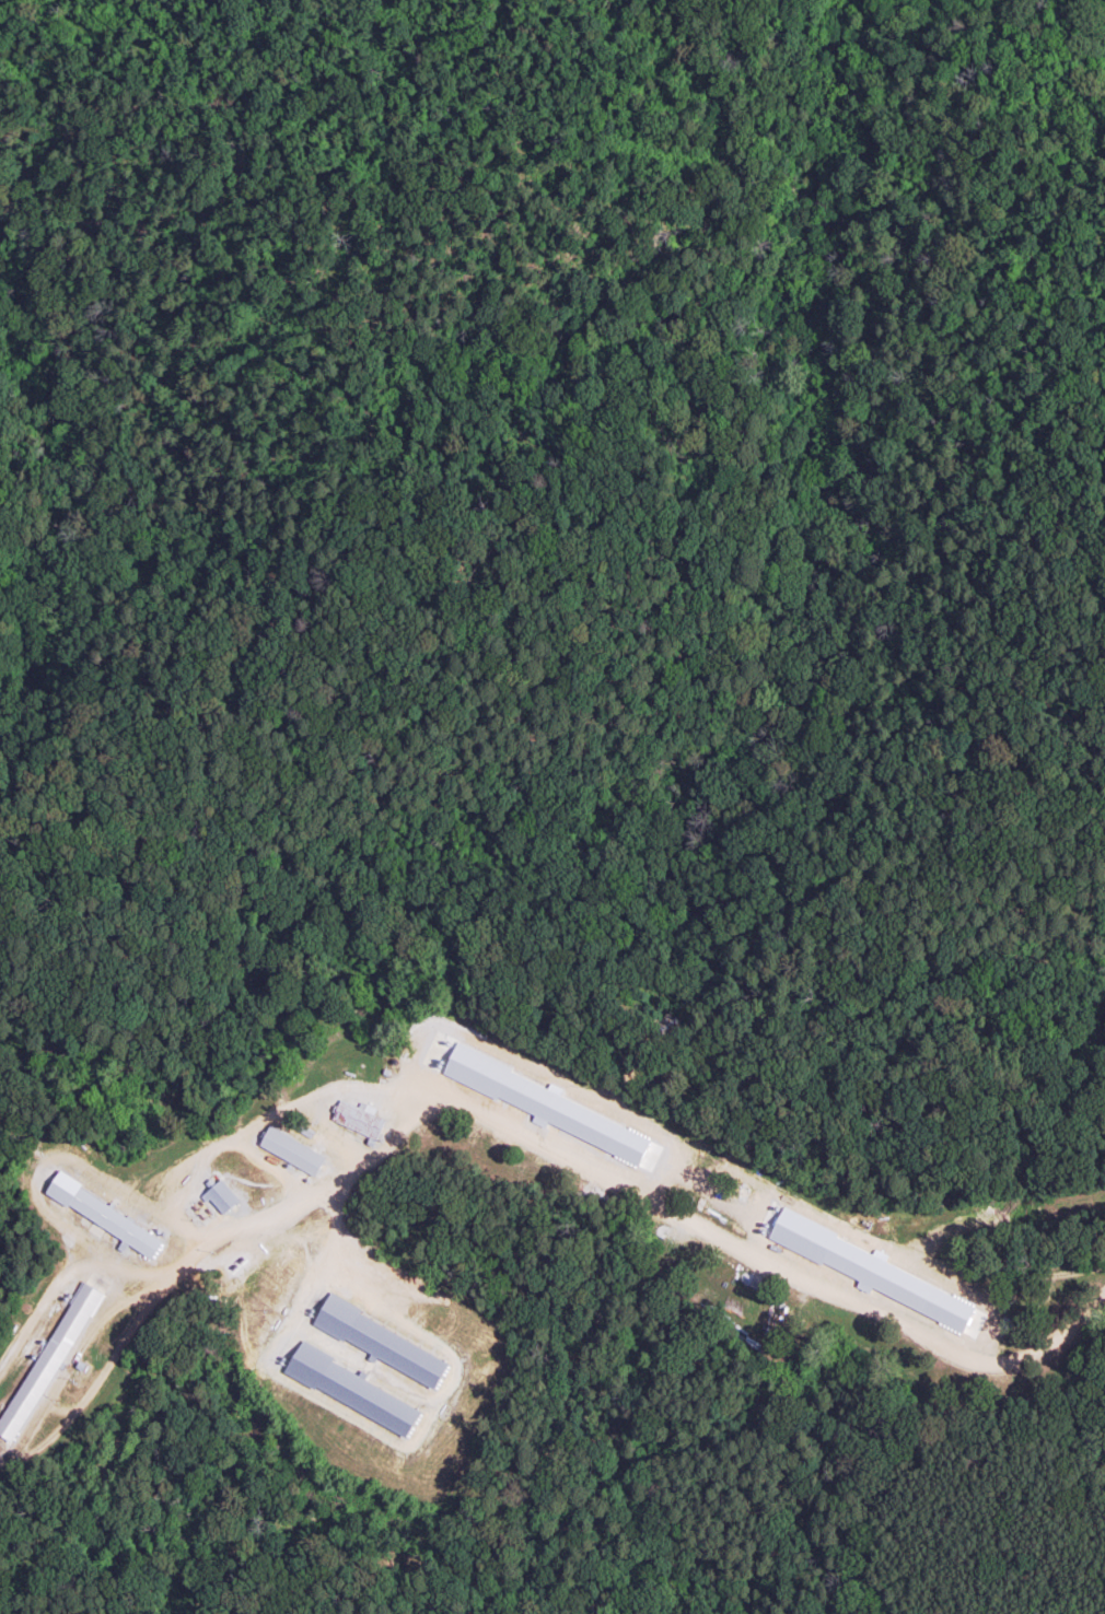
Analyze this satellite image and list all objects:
building: (539, 1103)
building: (358, 1119)
building: (292, 1150)
road: (606, 1178)
building: (221, 1196)
building: (104, 1215)
building: (885, 1276)
building: (381, 1343)
building: (48, 1360)
building: (351, 1388)

